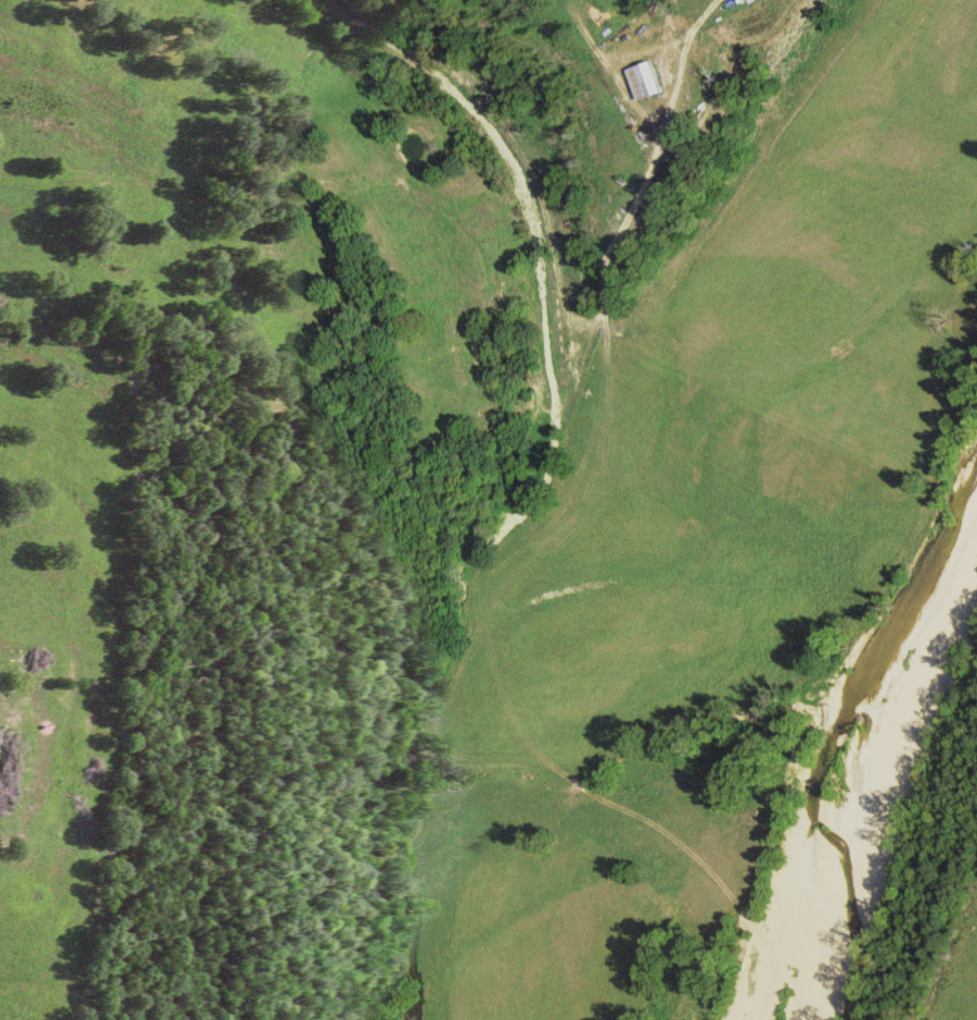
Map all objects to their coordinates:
road: (719, 20)
building: (648, 79)

